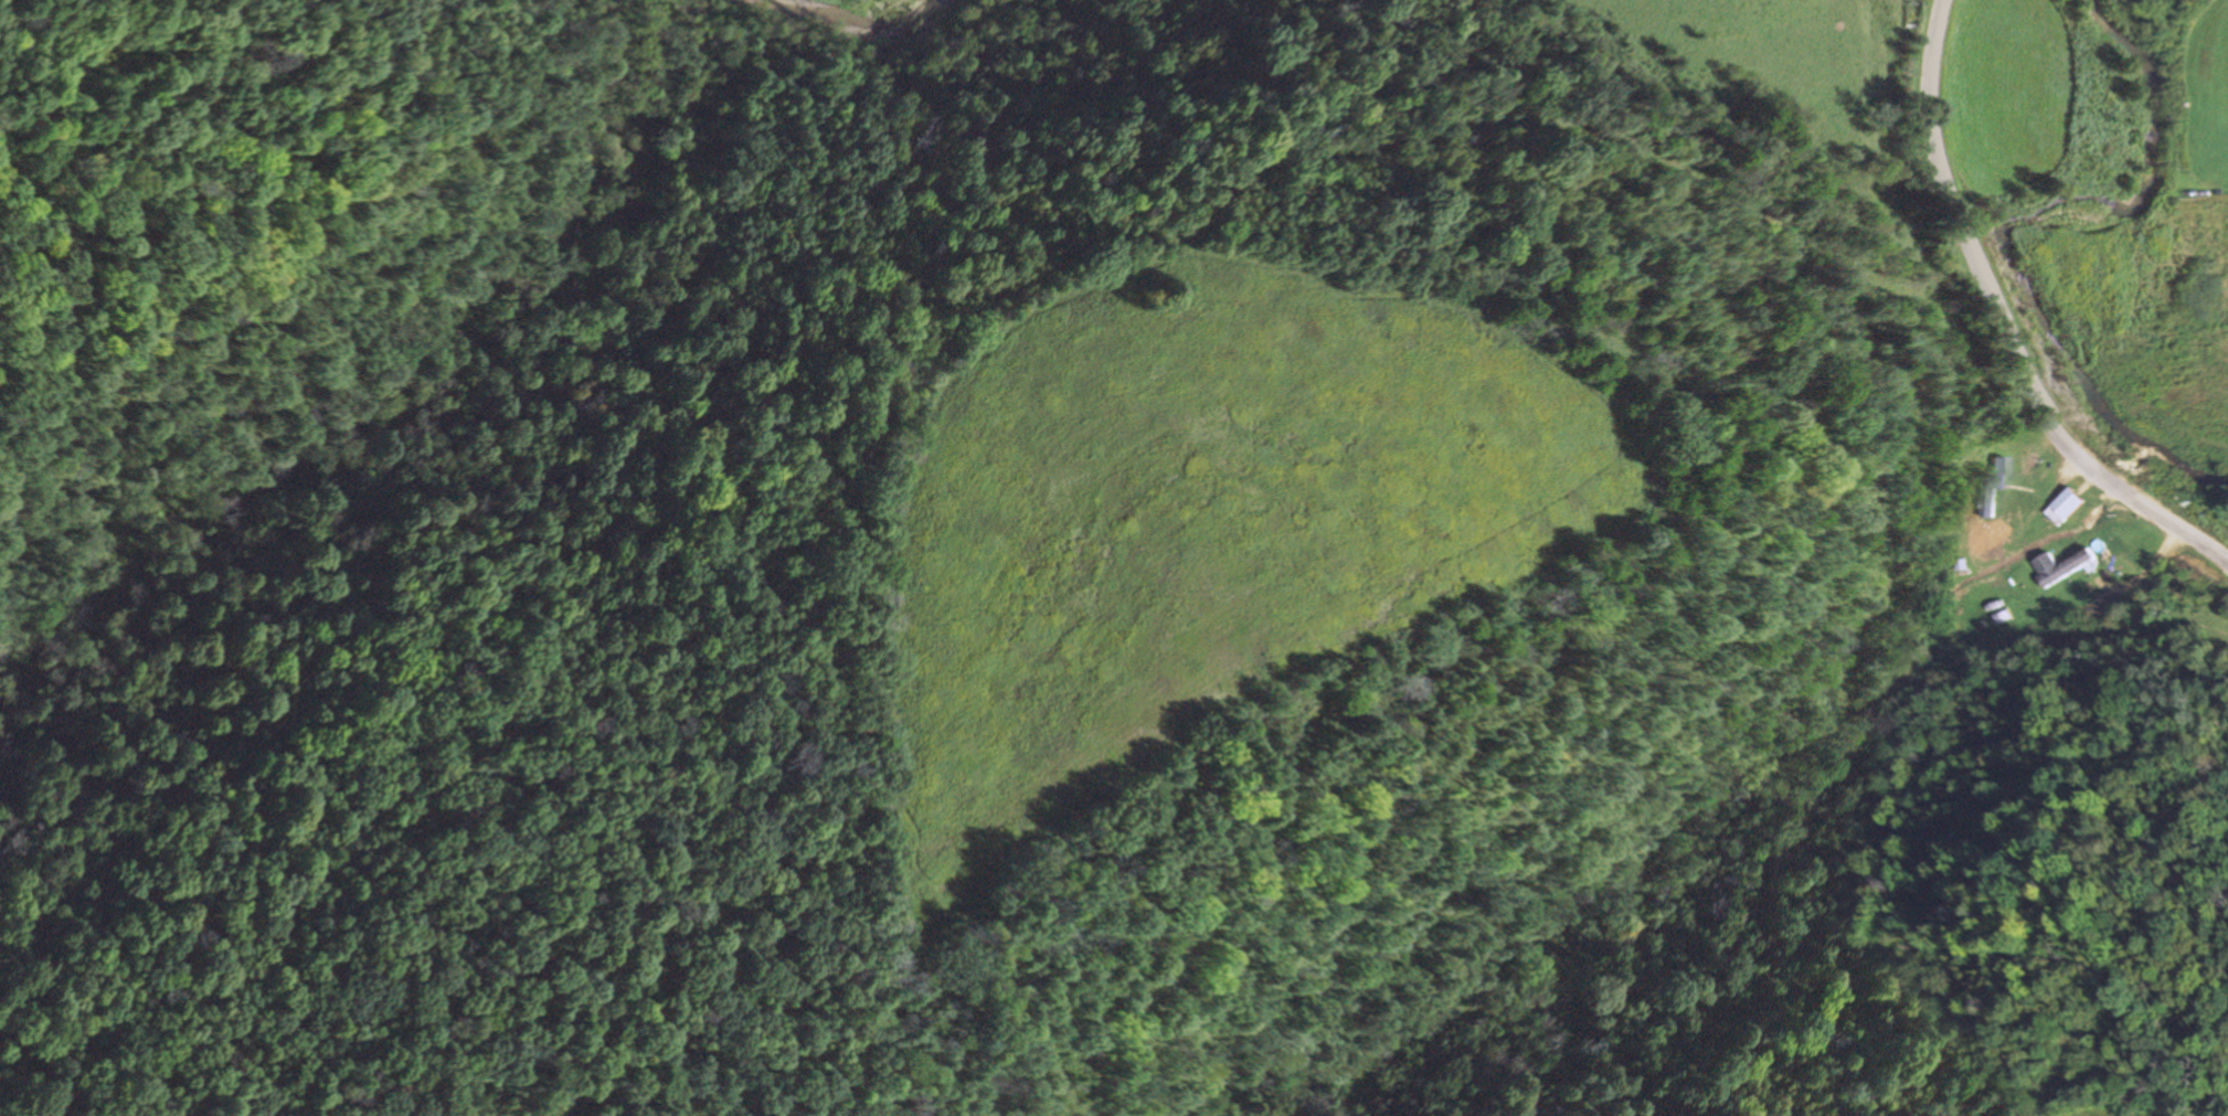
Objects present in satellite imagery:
road: (1997, 326)
building: (1990, 488)
building: (2067, 508)
building: (2062, 566)

